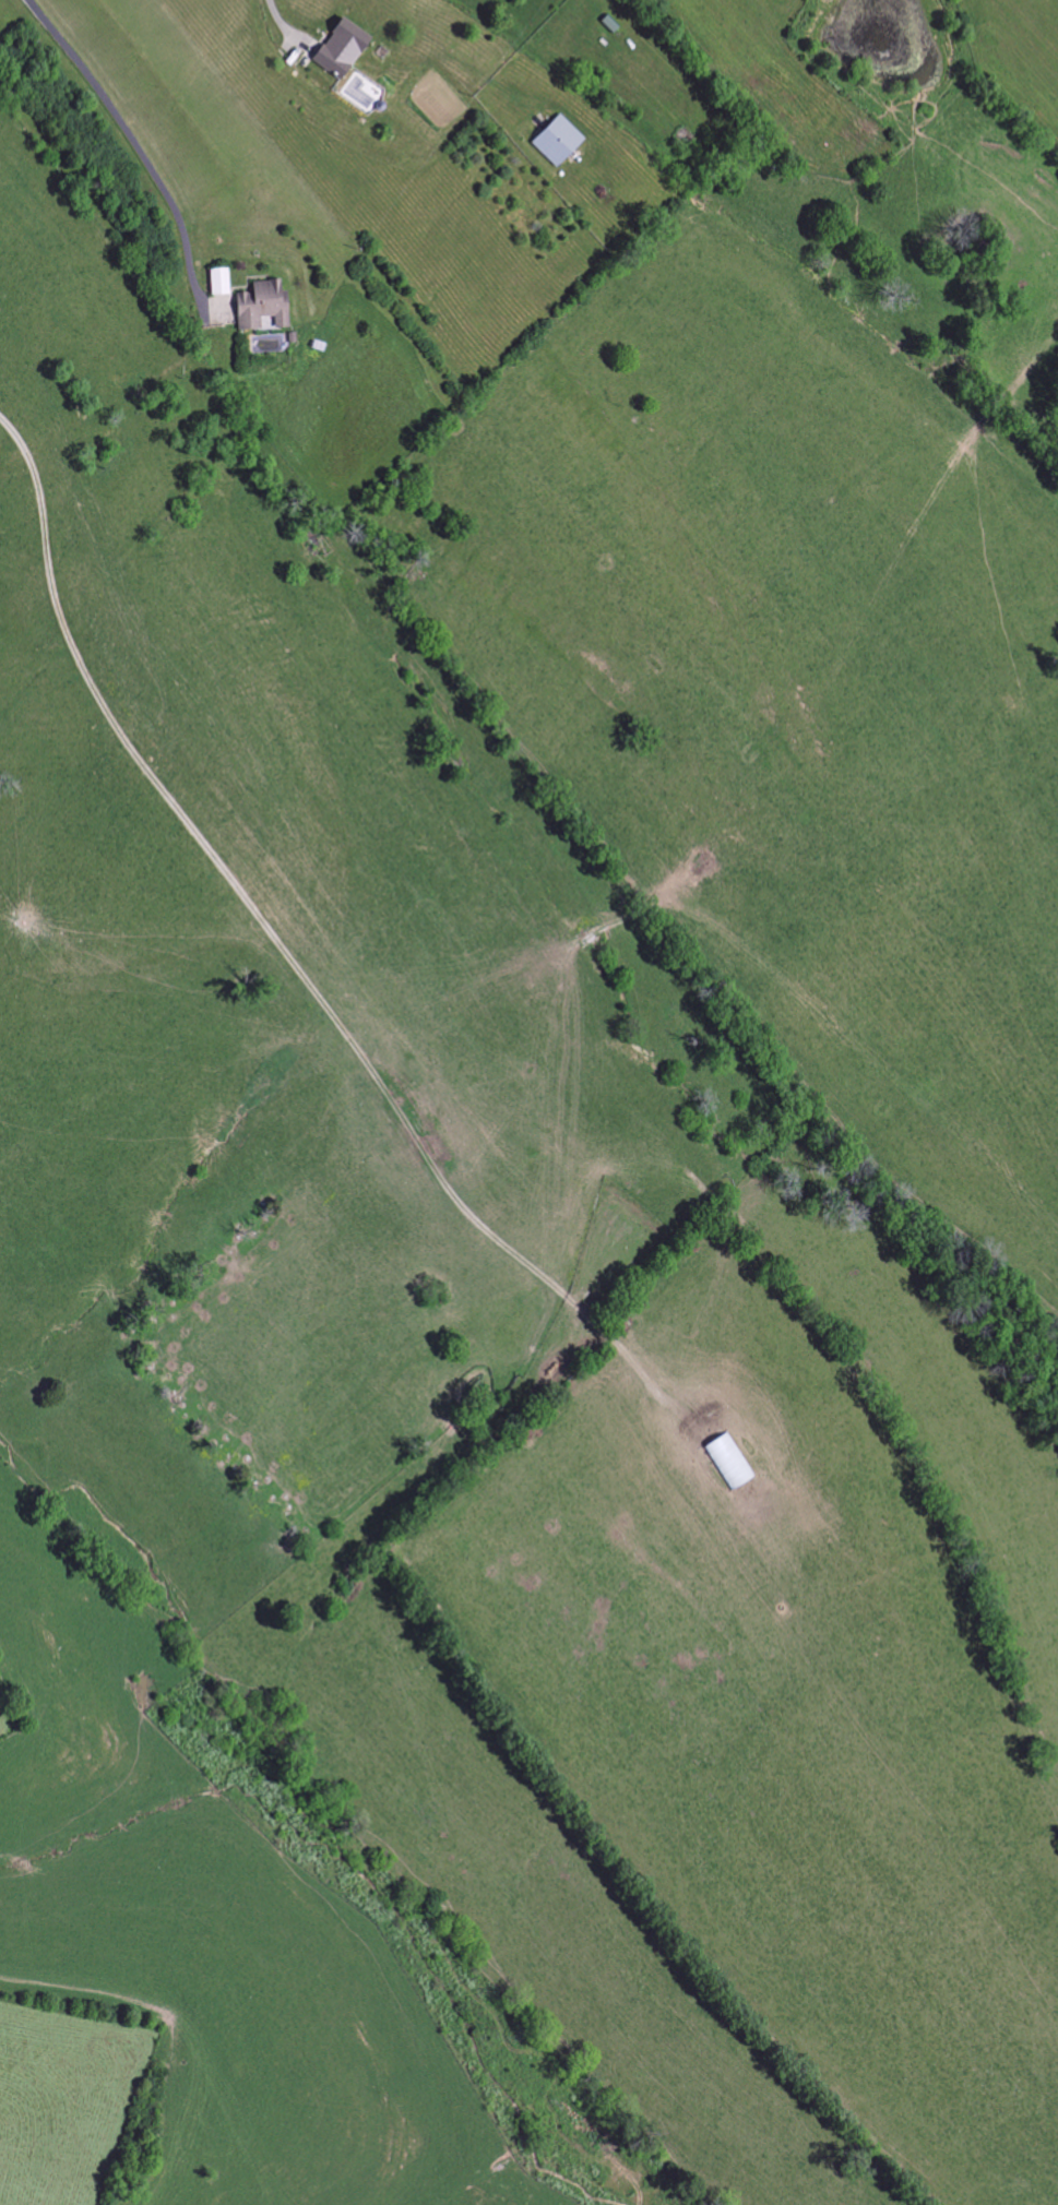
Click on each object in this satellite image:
road: (275, 21)
building: (341, 49)
building: (558, 141)
road: (129, 145)
building: (218, 282)
building: (261, 305)
road: (278, 951)

